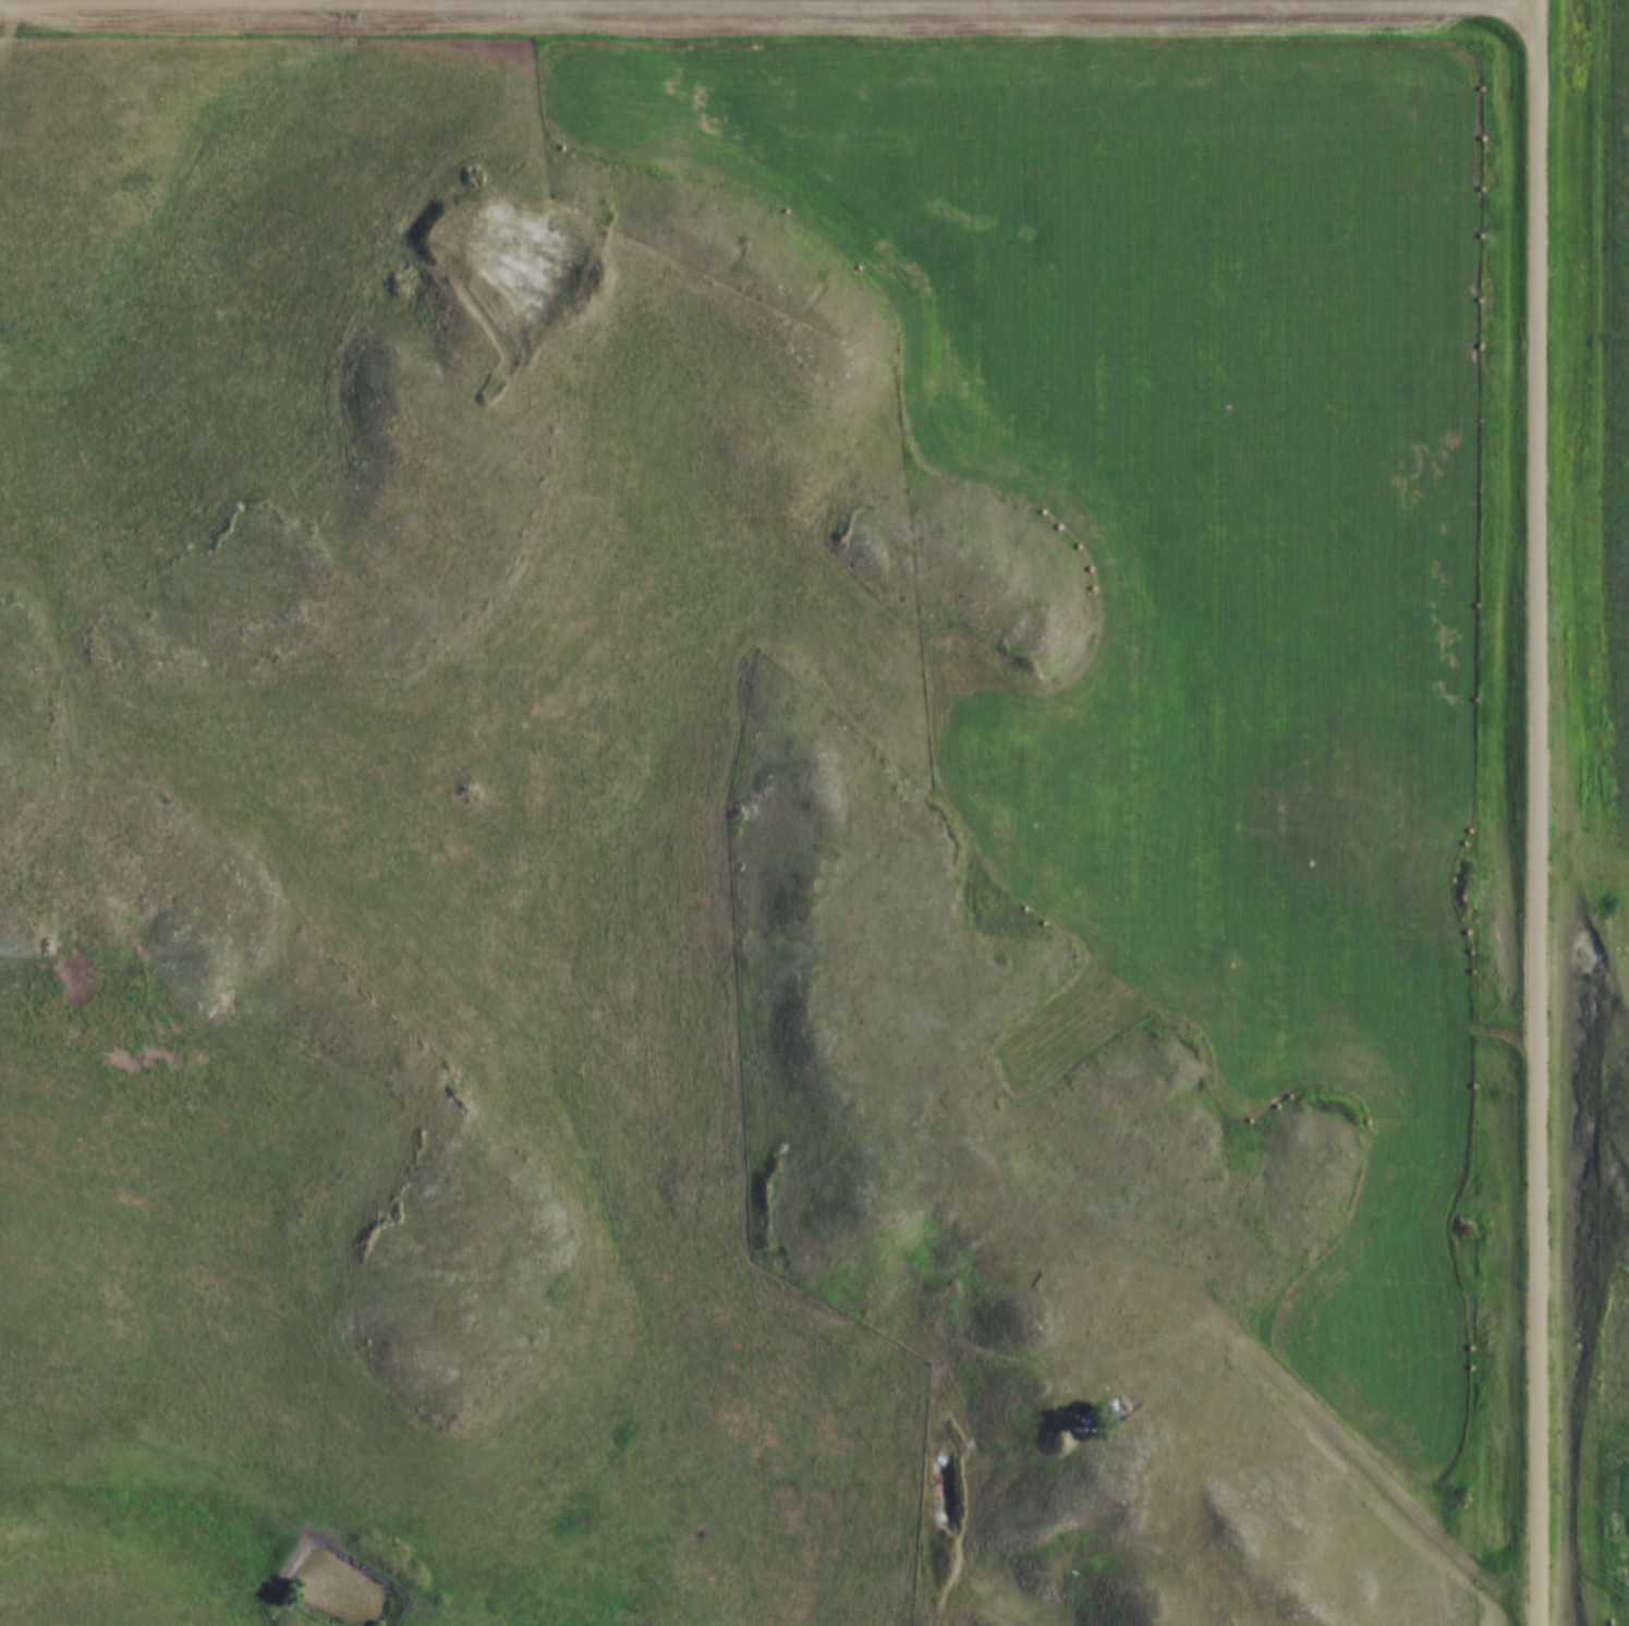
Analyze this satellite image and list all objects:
road: (988, 3)
road: (1541, 812)

